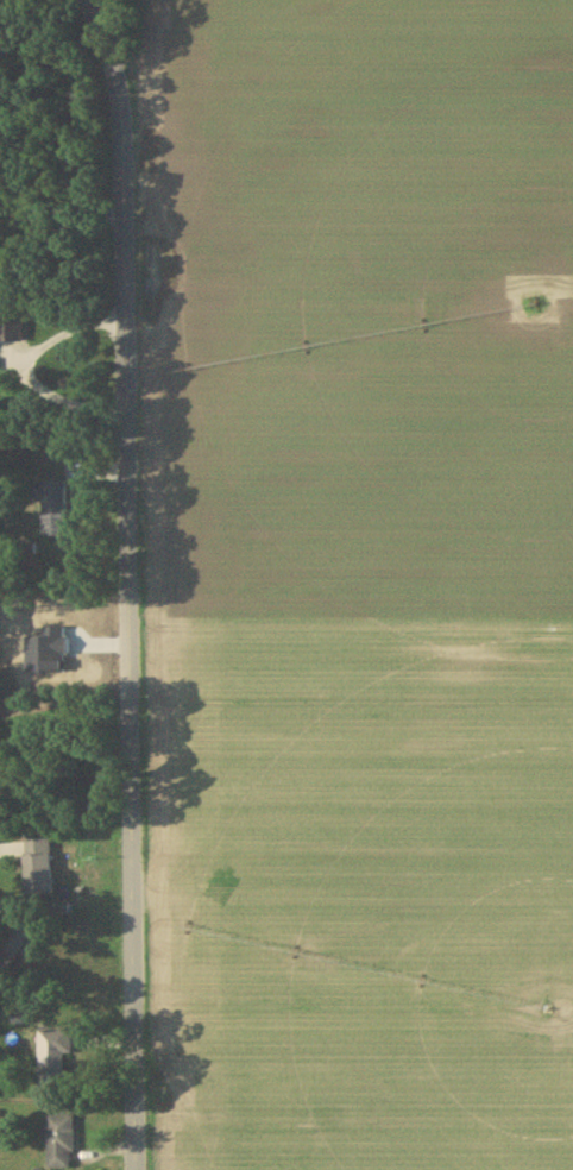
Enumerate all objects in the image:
road: (53, 208)
building: (6, 328)
road: (19, 366)
building: (55, 508)
road: (127, 581)
building: (40, 866)
building: (17, 939)
building: (55, 1058)
building: (62, 1141)

